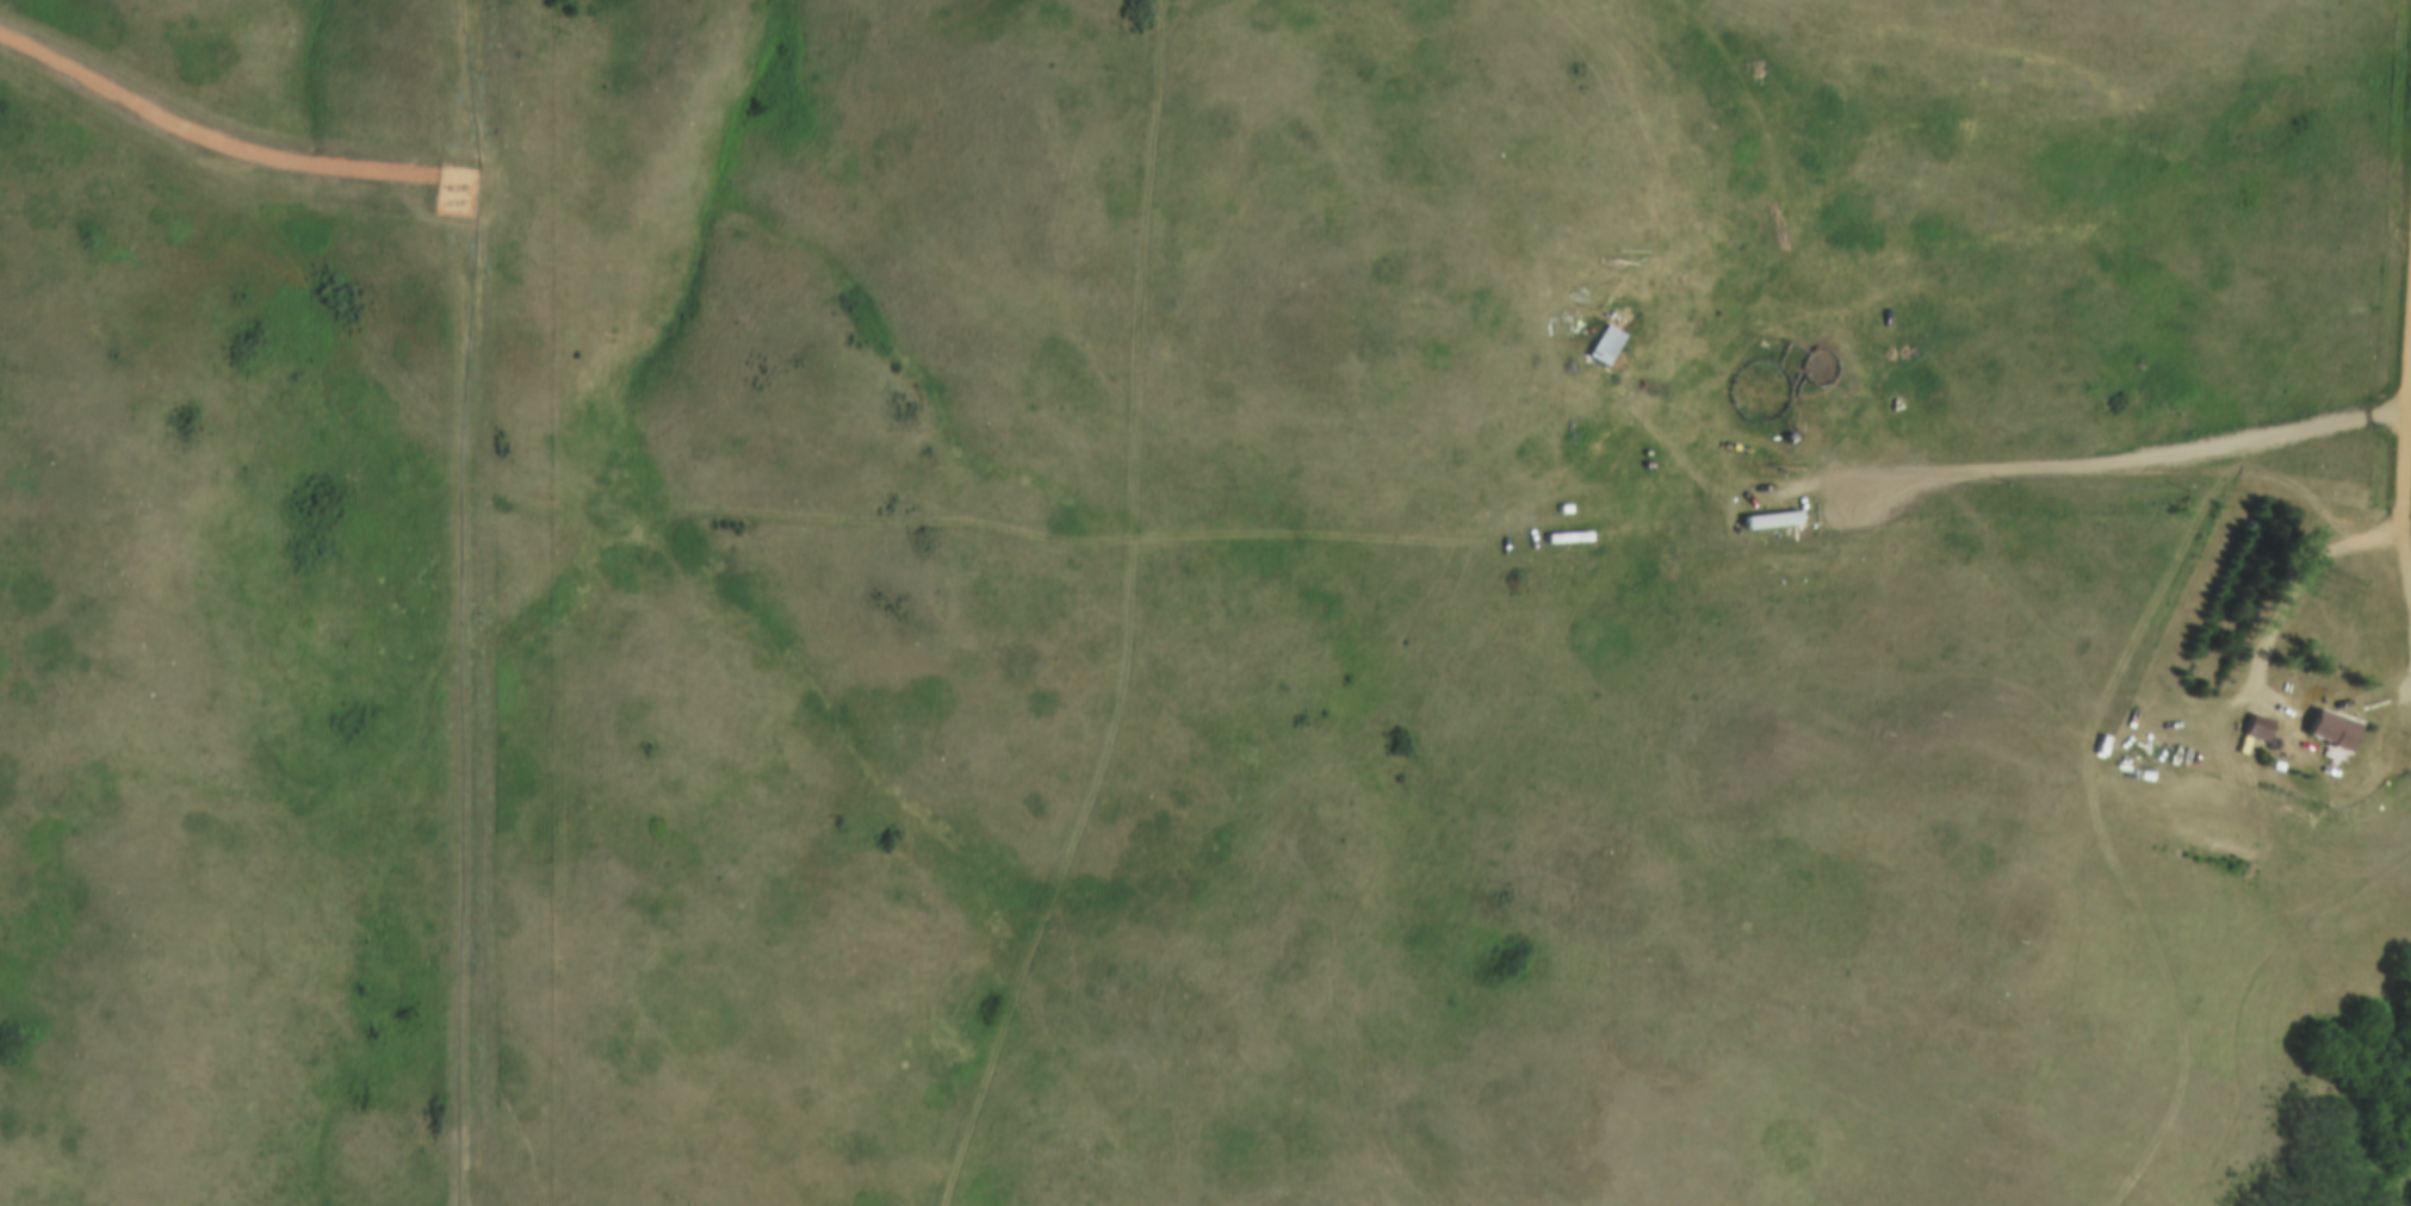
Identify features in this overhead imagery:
building: (1600, 341)
building: (1612, 342)
road: (2400, 442)
road: (2131, 450)
building: (1769, 511)
building: (1563, 533)
road: (2301, 583)
road: (2060, 644)
building: (2339, 727)
building: (2318, 747)
building: (2266, 781)

